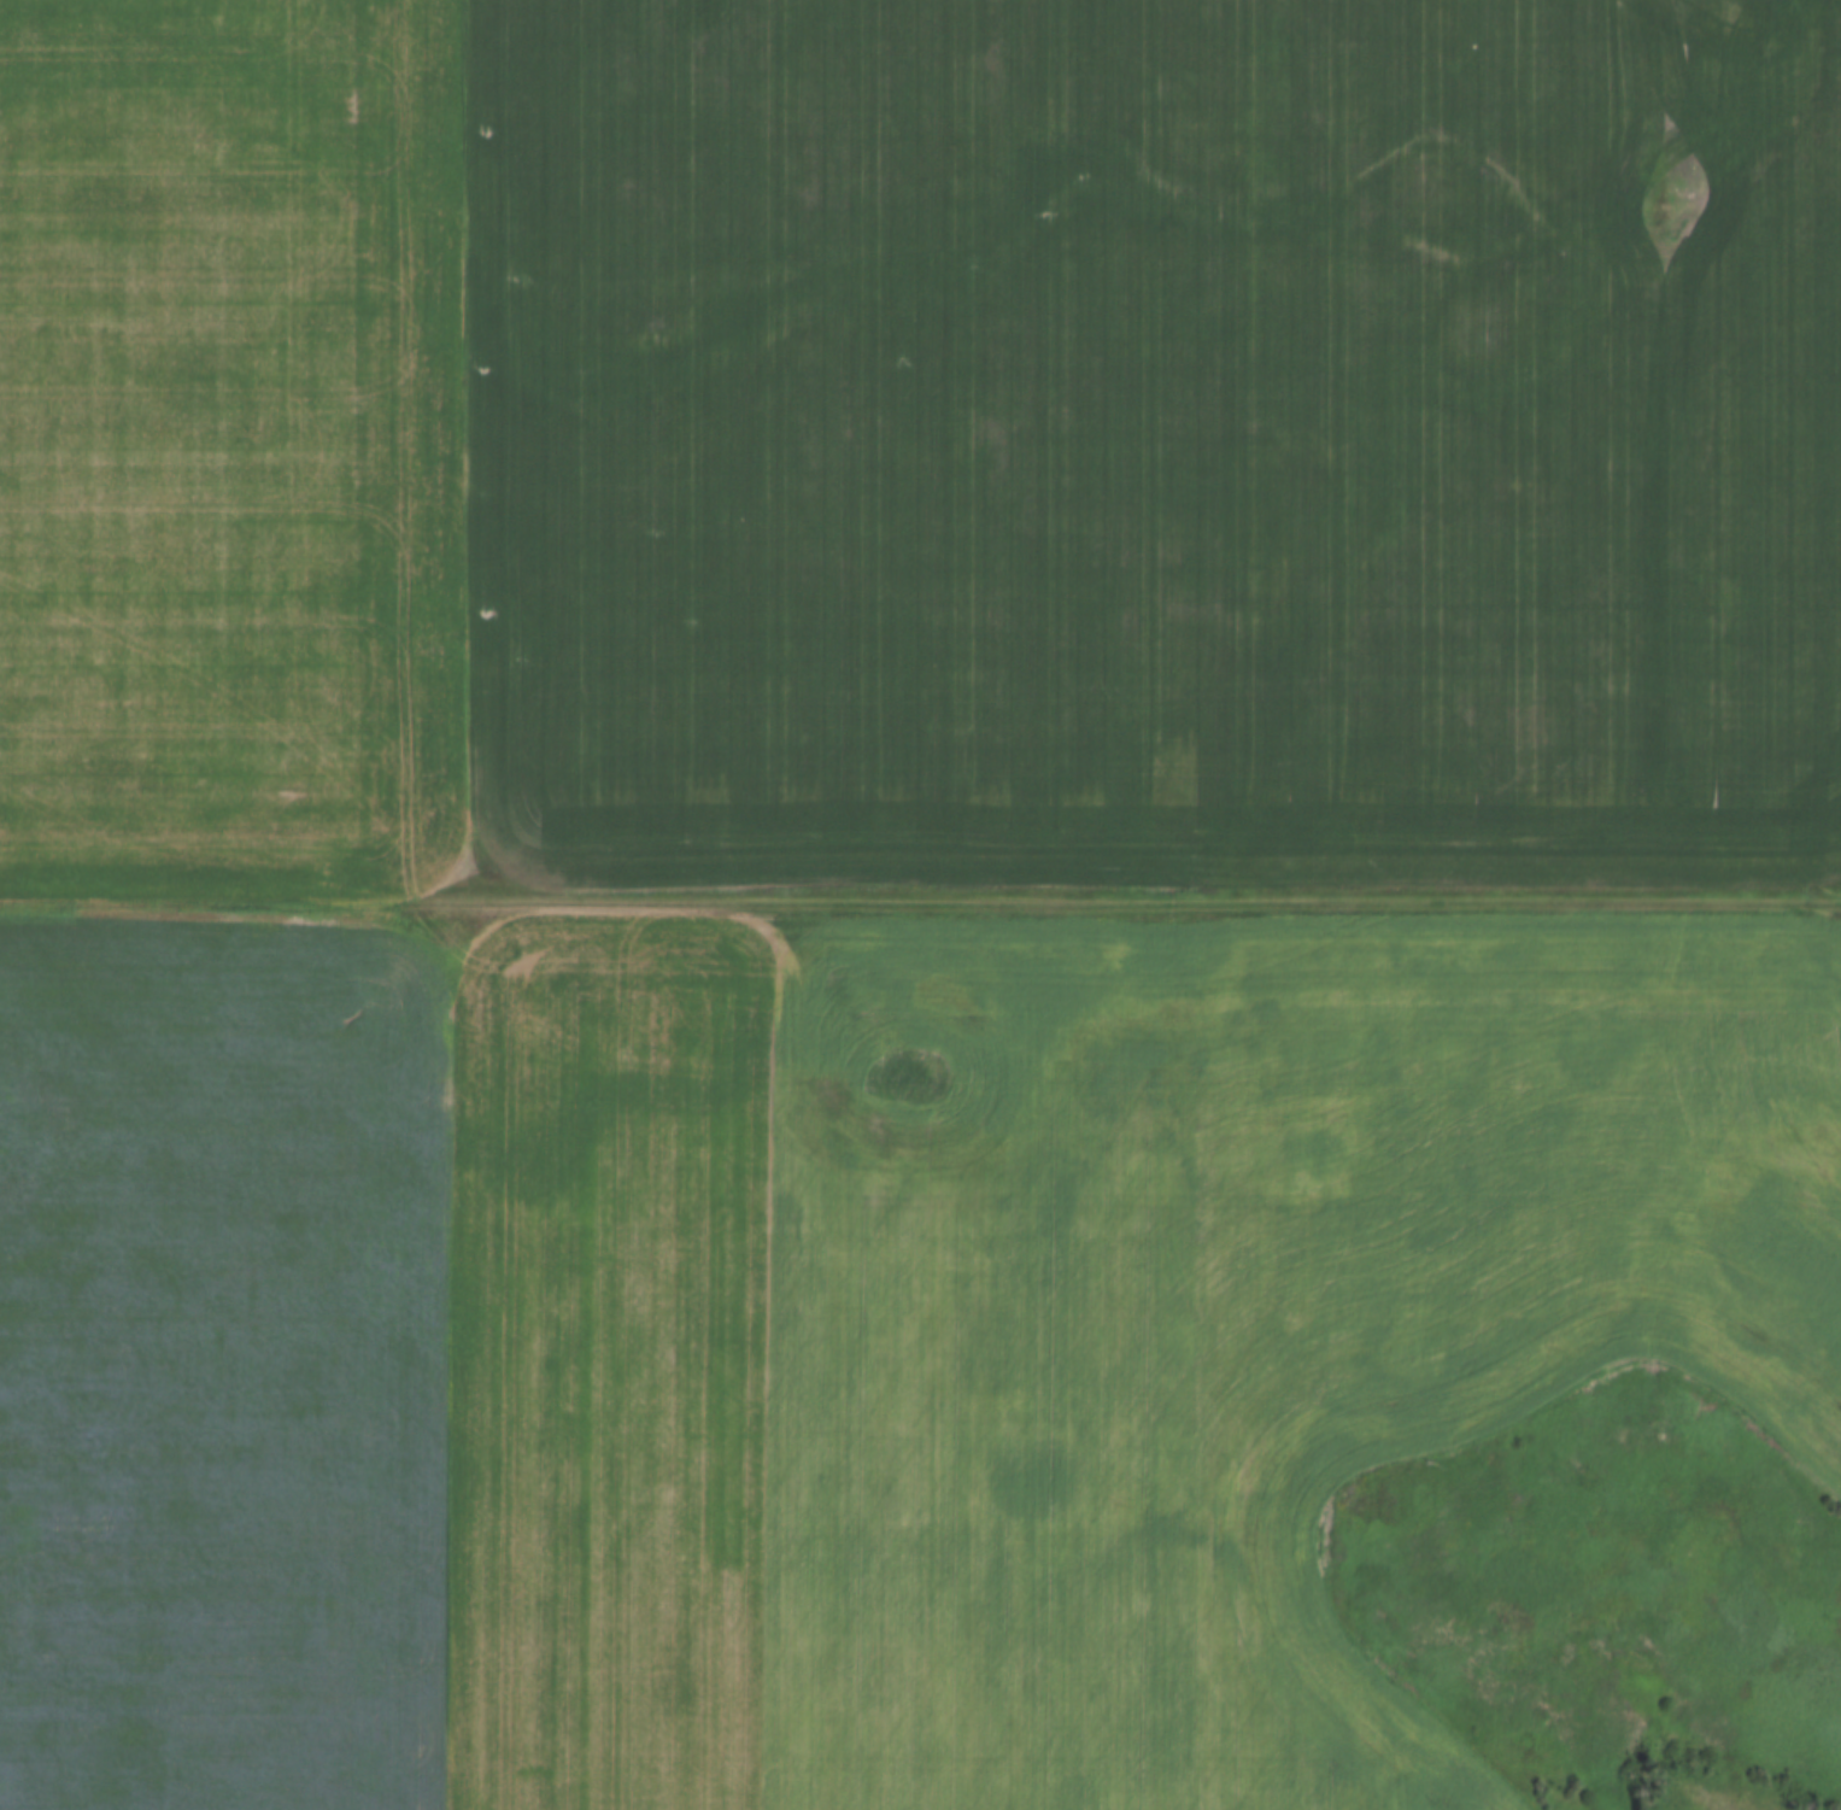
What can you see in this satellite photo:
road: (920, 902)

